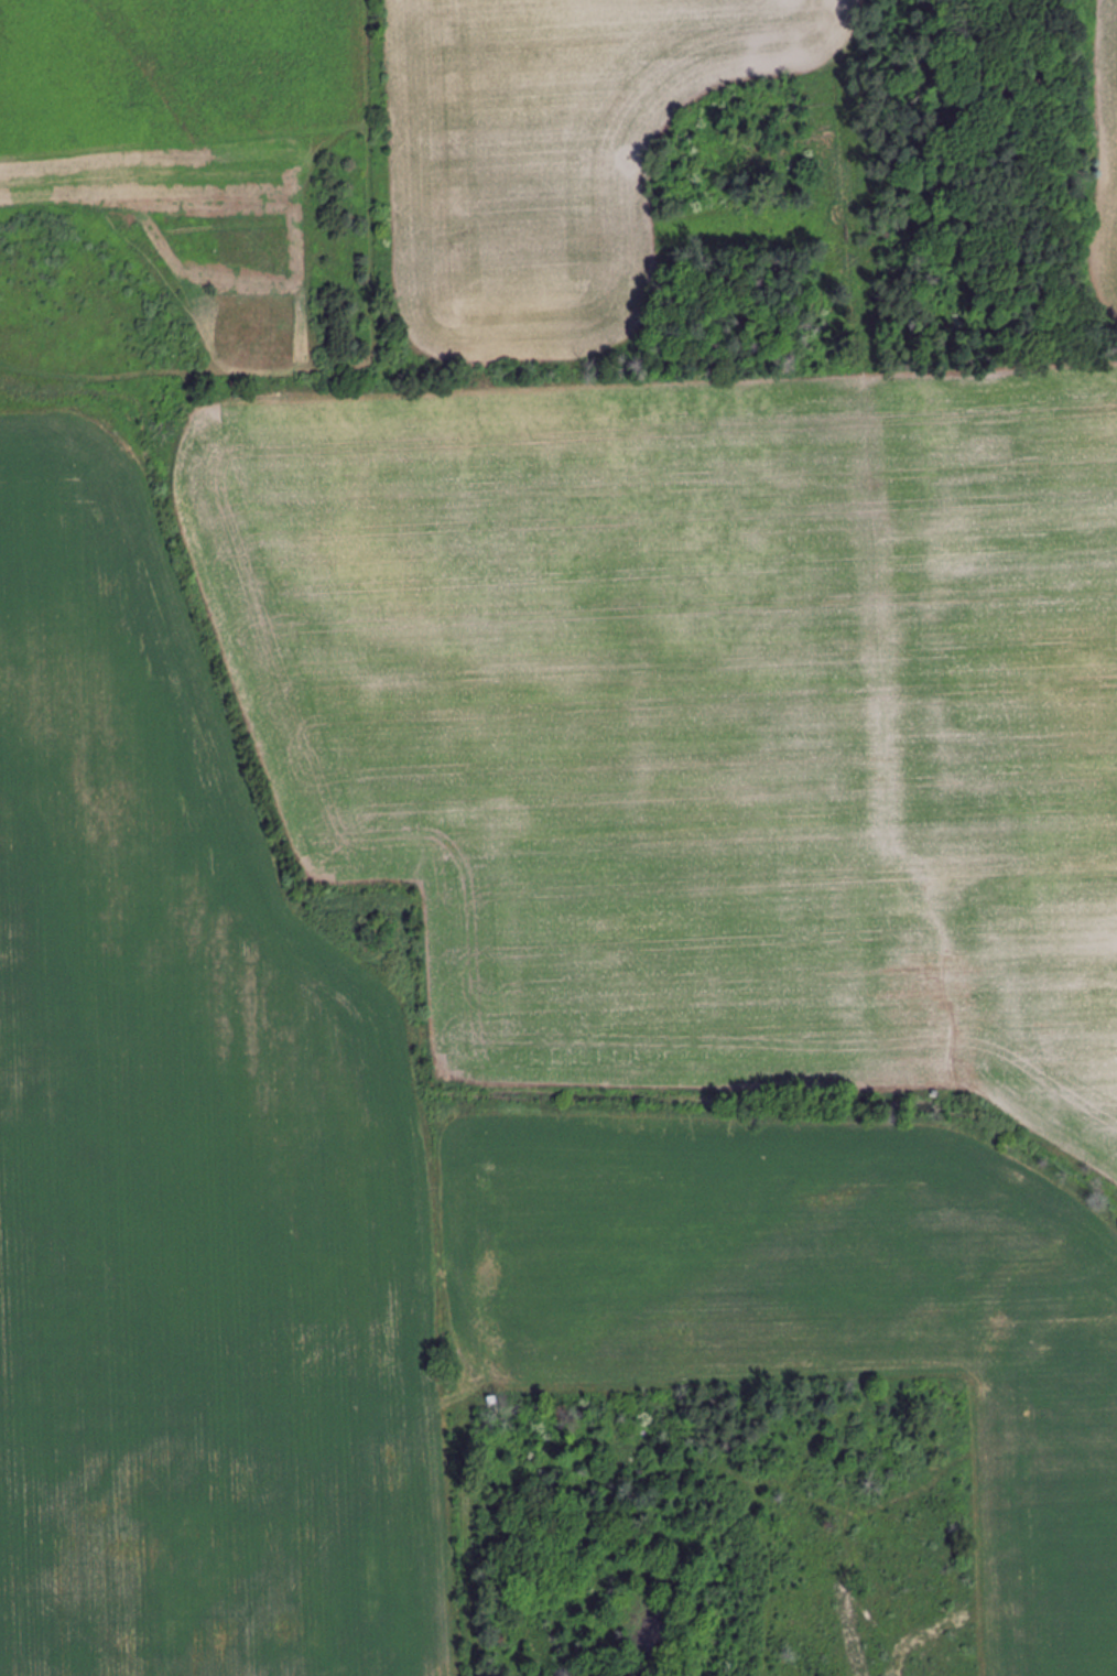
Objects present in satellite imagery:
crop: (716, 703)
crop: (189, 1163)

